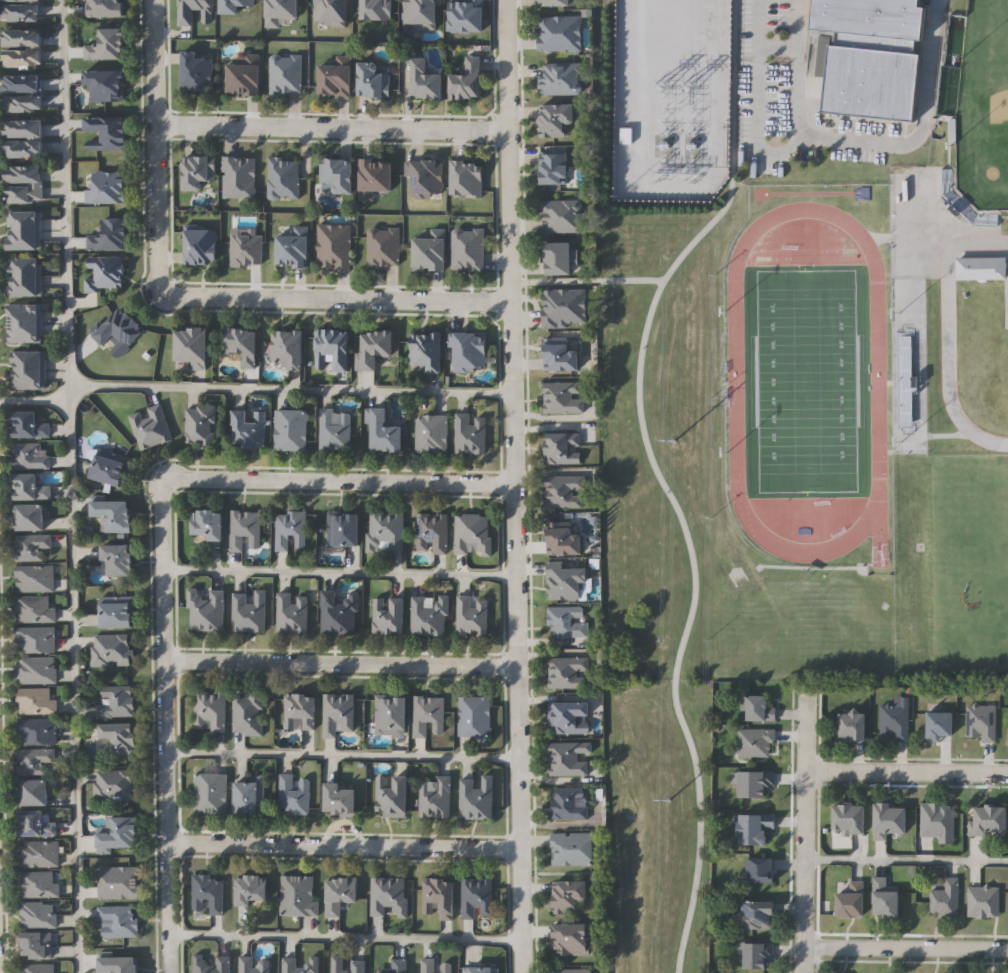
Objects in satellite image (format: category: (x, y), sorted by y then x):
building: (21, 1)
building: (559, 3)
building: (235, 6)
building: (106, 8)
building: (377, 10)
building: (21, 12)
building: (282, 12)
building: (332, 13)
building: (422, 13)
building: (467, 16)
building: (188, 18)
road: (796, 31)
building: (561, 34)
building: (22, 39)
building: (108, 45)
building: (868, 56)
building: (23, 58)
building: (199, 71)
building: (286, 75)
building: (245, 76)
building: (337, 77)
building: (561, 79)
building: (468, 80)
building: (374, 81)
building: (427, 81)
building: (22, 84)
building: (107, 85)
power substation: (672, 100)
building: (23, 103)
park: (982, 107)
building: (557, 119)
road: (332, 128)
building: (24, 129)
building: (106, 133)
road: (155, 144)
road: (891, 146)
building: (24, 148)
building: (555, 168)
building: (198, 172)
building: (24, 175)
building: (338, 175)
building: (239, 178)
building: (375, 178)
building: (284, 179)
building: (427, 179)
building: (467, 179)
building: (108, 188)
road: (65, 191)
building: (24, 194)
building: (562, 217)
building: (24, 222)
building: (110, 236)
building: (24, 241)
building: (202, 246)
building: (335, 247)
building: (294, 249)
building: (384, 249)
building: (247, 251)
building: (469, 251)
building: (431, 252)
building: (559, 259)
building: (24, 268)
building: (979, 269)
building: (105, 273)
building: (24, 288)
road: (336, 297)
building: (565, 309)
building: (24, 314)
building: (120, 331)
building: (24, 334)
road: (949, 335)
building: (243, 346)
building: (193, 347)
building: (288, 349)
building: (333, 349)
building: (375, 349)
building: (470, 352)
building: (427, 353)
building: (562, 355)
building: (28, 361)
building: (28, 380)
park: (806, 381)
track: (806, 382)
track: (735, 383)
road: (291, 387)
road: (69, 391)
building: (564, 398)
road: (34, 399)
building: (30, 426)
building: (201, 426)
building: (151, 428)
building: (250, 430)
building: (291, 430)
building: (335, 431)
building: (386, 433)
building: (433, 435)
building: (471, 435)
building: (564, 449)
building: (30, 457)
building: (111, 468)
road: (338, 478)
road: (659, 478)
road: (512, 486)
building: (32, 489)
building: (565, 492)
building: (116, 516)
building: (31, 518)
building: (210, 525)
building: (344, 529)
building: (245, 531)
building: (291, 532)
building: (386, 532)
building: (433, 534)
building: (473, 535)
building: (564, 540)
building: (32, 548)
building: (119, 560)
park: (659, 567)
road: (339, 571)
building: (35, 580)
building: (567, 583)
building: (35, 610)
building: (207, 611)
building: (117, 613)
building: (250, 613)
building: (340, 613)
building: (293, 614)
building: (391, 617)
building: (473, 617)
building: (430, 618)
building: (569, 622)
building: (37, 641)
building: (112, 651)
road: (341, 663)
building: (37, 671)
building: (570, 674)
road: (73, 686)
building: (38, 701)
building: (118, 703)
building: (762, 710)
building: (211, 712)
building: (301, 712)
building: (392, 713)
building: (249, 715)
building: (338, 715)
building: (429, 717)
building: (475, 717)
building: (571, 719)
building: (897, 720)
building: (984, 723)
road: (164, 725)
building: (855, 726)
building: (943, 726)
building: (38, 732)
building: (121, 738)
building: (758, 742)
road: (341, 754)
building: (570, 760)
building: (35, 761)
road: (906, 766)
building: (758, 784)
building: (114, 786)
building: (35, 793)
building: (211, 794)
building: (251, 796)
building: (294, 796)
building: (393, 797)
building: (436, 798)
building: (477, 799)
building: (341, 800)
building: (571, 804)
building: (852, 819)
building: (891, 820)
building: (992, 821)
building: (940, 822)
building: (37, 825)
building: (757, 828)
road: (802, 833)
building: (121, 835)
road: (342, 844)
building: (573, 849)
building: (40, 855)
road: (905, 857)
building: (764, 870)
building: (119, 883)
building: (40, 886)
building: (253, 891)
building: (340, 894)
building: (209, 895)
building: (570, 896)
building: (299, 897)
building: (390, 897)
building: (440, 898)
building: (478, 899)
building: (947, 899)
building: (854, 900)
building: (887, 900)
building: (985, 902)
building: (759, 915)
building: (39, 916)
building: (119, 921)
road: (345, 937)
building: (573, 940)
road: (904, 943)
building: (38, 947)
building: (760, 956)
building: (212, 964)
building: (119, 965)
building: (255, 965)
building: (300, 965)
building: (348, 965)
building: (400, 966)
building: (437, 966)
building: (42, 969)
building: (482, 970)
building: (573, 971)

